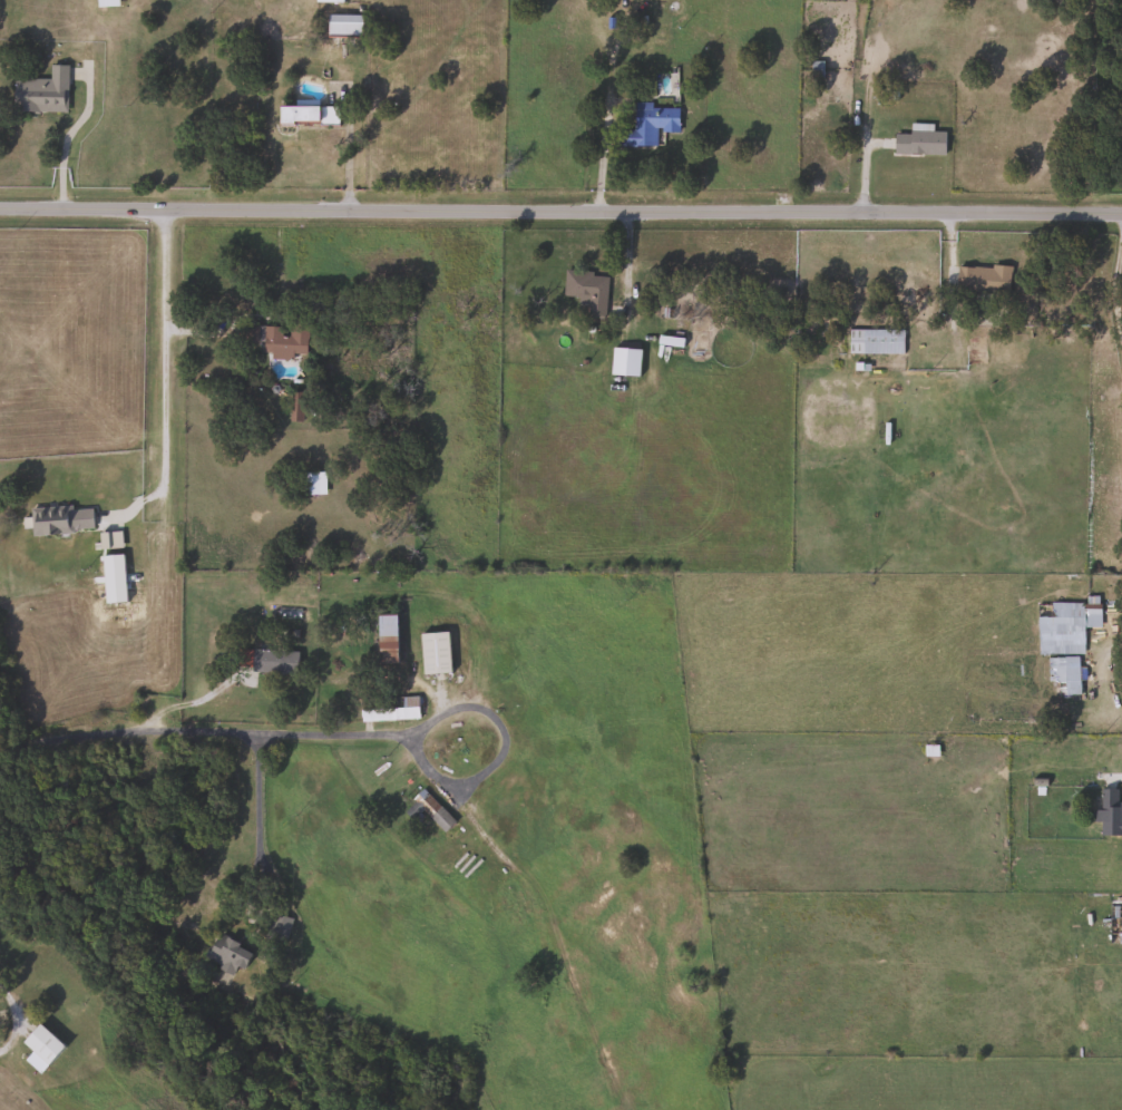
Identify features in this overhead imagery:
building: (329, 0)
building: (104, 2)
building: (343, 25)
building: (40, 91)
building: (308, 115)
building: (648, 124)
road: (66, 139)
building: (919, 142)
road: (560, 206)
building: (982, 279)
road: (1115, 281)
building: (587, 290)
building: (276, 339)
building: (694, 339)
building: (875, 341)
building: (974, 351)
road: (162, 354)
building: (294, 407)
building: (312, 484)
building: (60, 519)
building: (108, 539)
building: (1063, 625)
building: (386, 640)
building: (433, 652)
road: (1106, 652)
building: (1062, 675)
road: (192, 700)
building: (388, 709)
road: (342, 737)
building: (431, 810)
road: (254, 811)
building: (1108, 812)
building: (1114, 926)
building: (226, 953)
road: (9, 1016)
building: (41, 1046)

